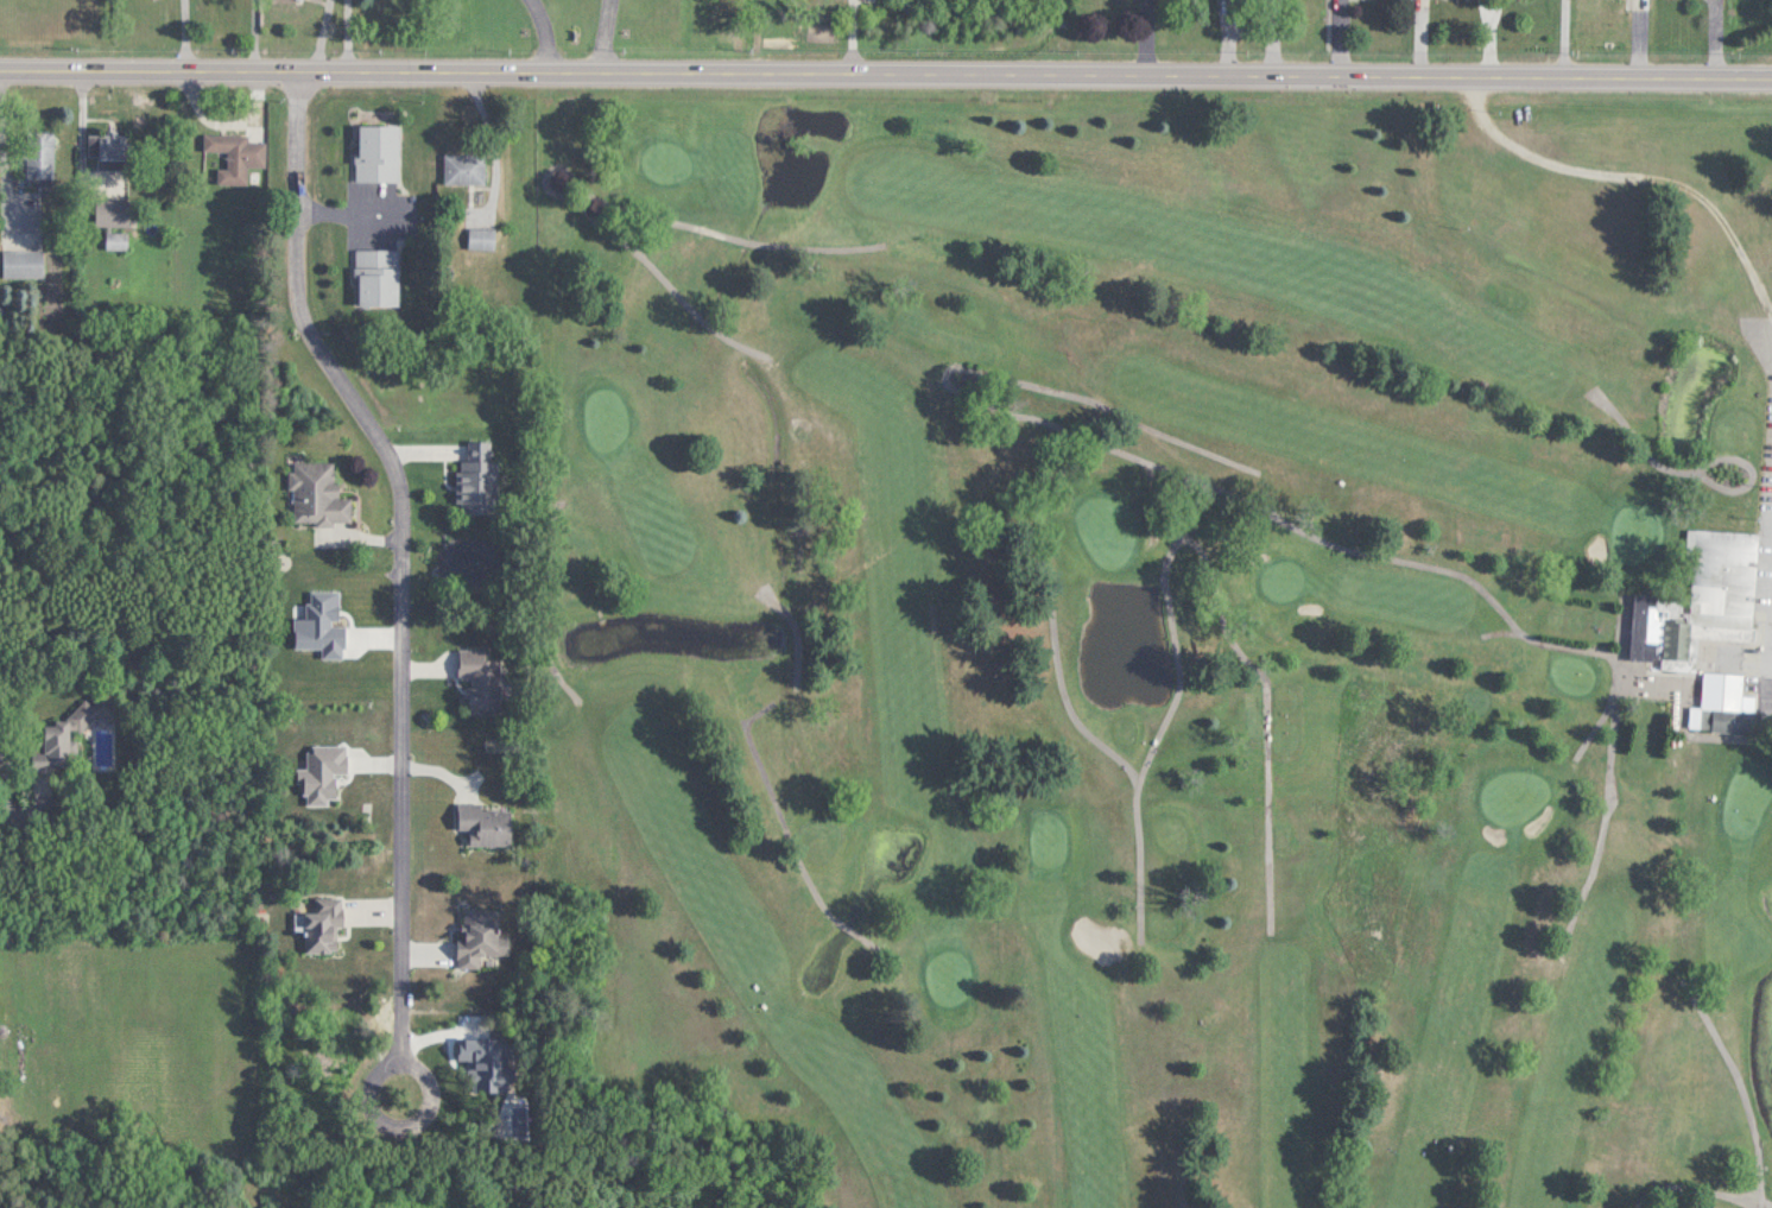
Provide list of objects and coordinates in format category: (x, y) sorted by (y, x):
building: (1639, 4)
building: (818, 15)
road: (188, 31)
road: (348, 31)
road: (545, 31)
road: (606, 32)
road: (886, 68)
building: (113, 151)
building: (379, 153)
building: (40, 154)
building: (236, 156)
building: (464, 169)
road: (348, 210)
building: (481, 239)
building: (116, 240)
building: (23, 264)
building: (378, 278)
building: (479, 481)
building: (318, 494)
road: (404, 549)
building: (1702, 601)
park: (1165, 643)
building: (481, 677)
building: (1726, 704)
road: (34, 817)
building: (486, 824)
building: (324, 923)
building: (481, 935)
road: (426, 1111)

